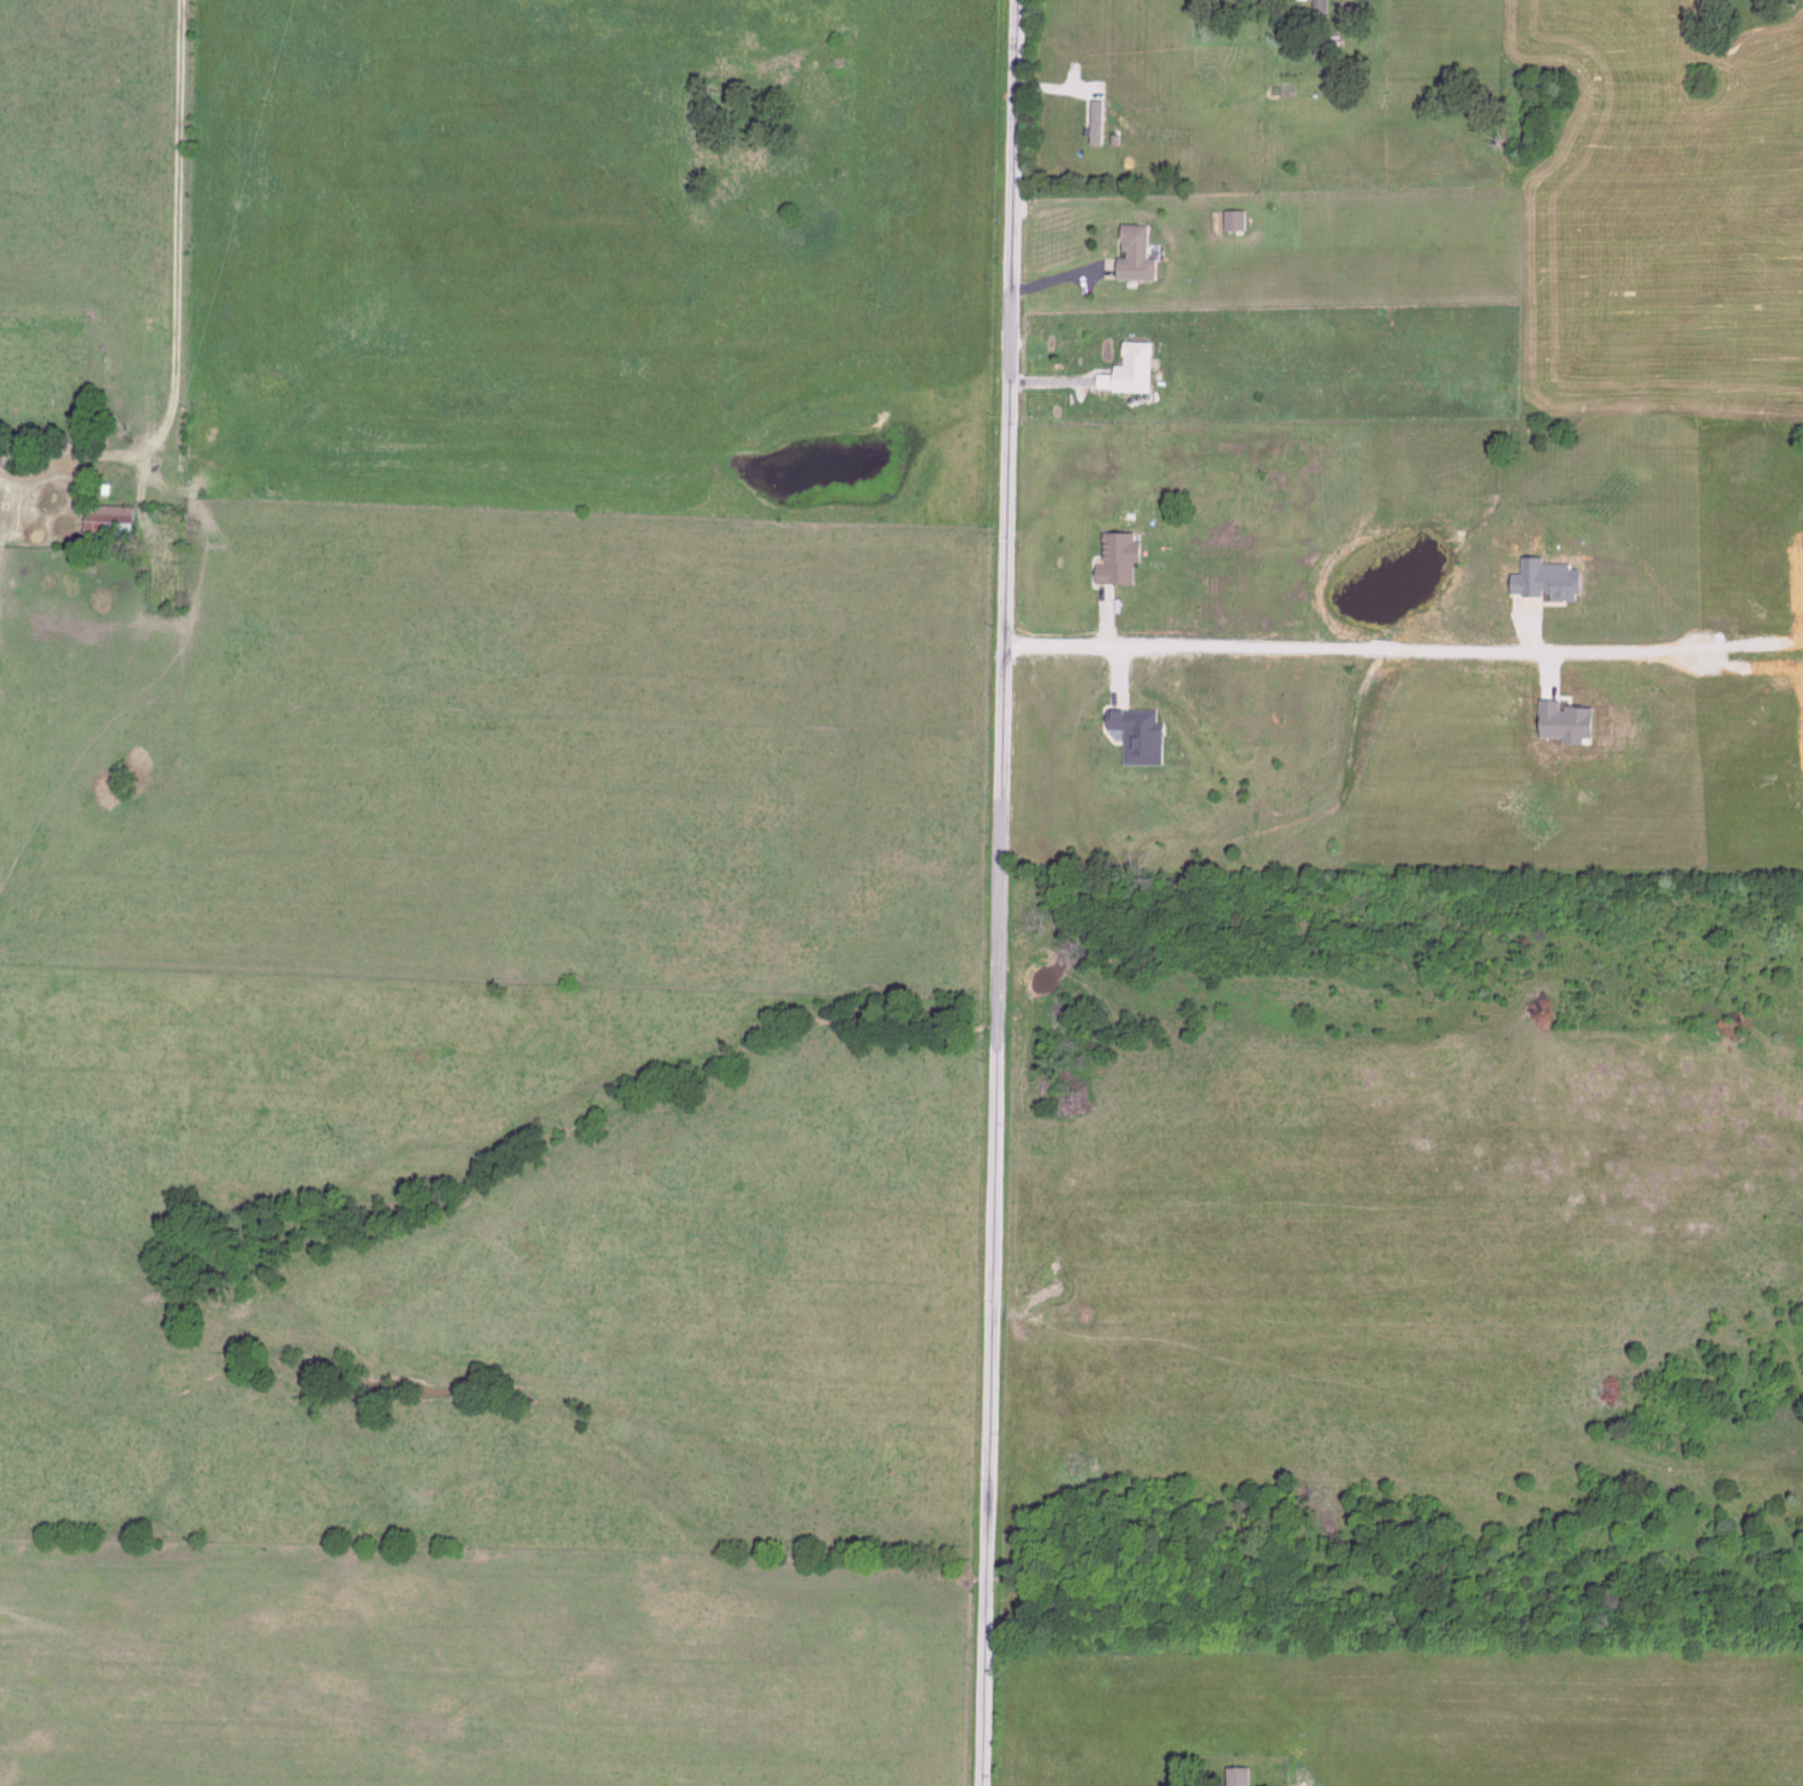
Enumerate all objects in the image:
building: (1319, 6)
building: (1237, 228)
building: (1139, 264)
road: (173, 268)
road: (1051, 285)
building: (1130, 379)
road: (1046, 385)
building: (105, 524)
building: (1121, 562)
road: (1106, 627)
road: (1352, 649)
road: (1119, 667)
building: (1138, 742)
road: (993, 893)
building: (1234, 1778)

